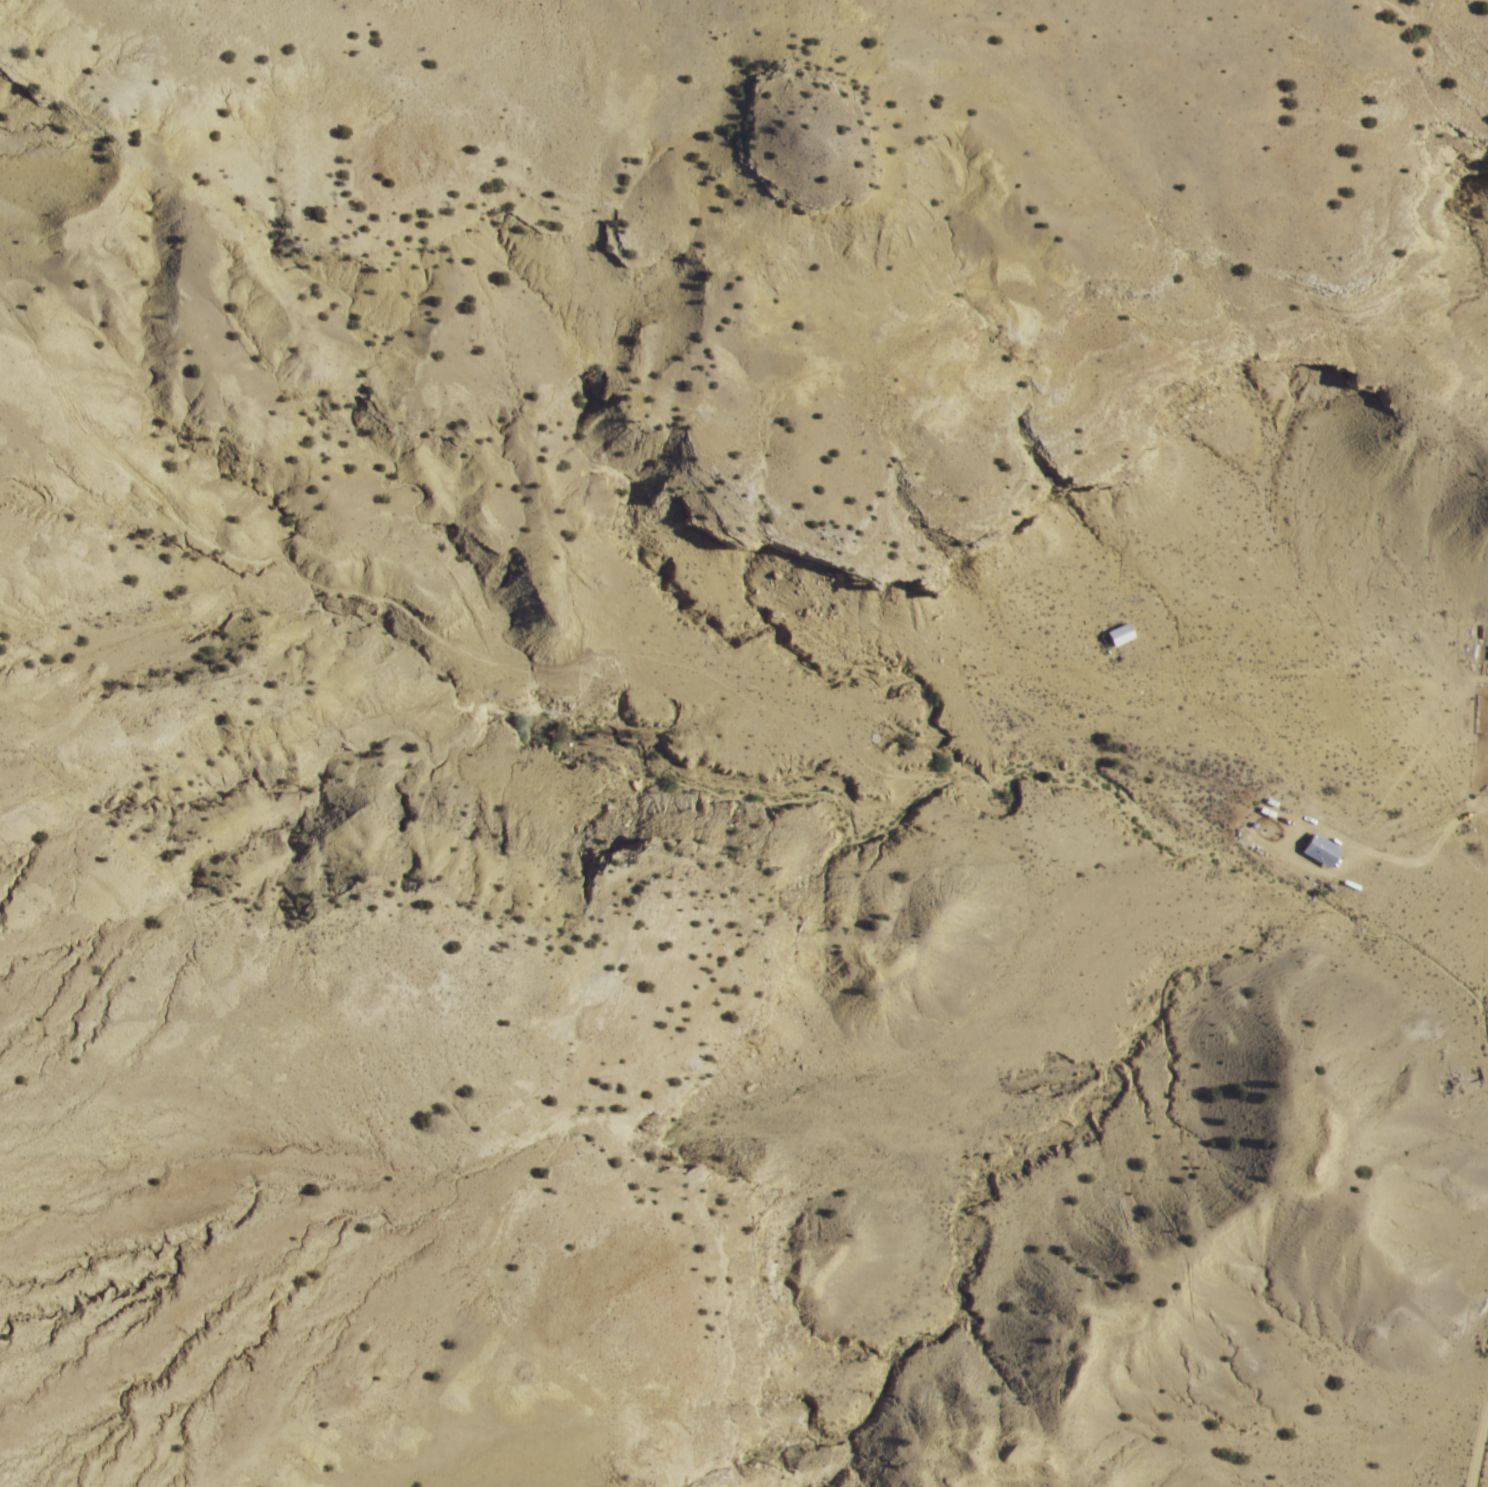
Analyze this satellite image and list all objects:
building: (1117, 636)
building: (1317, 850)
road: (1477, 1434)

